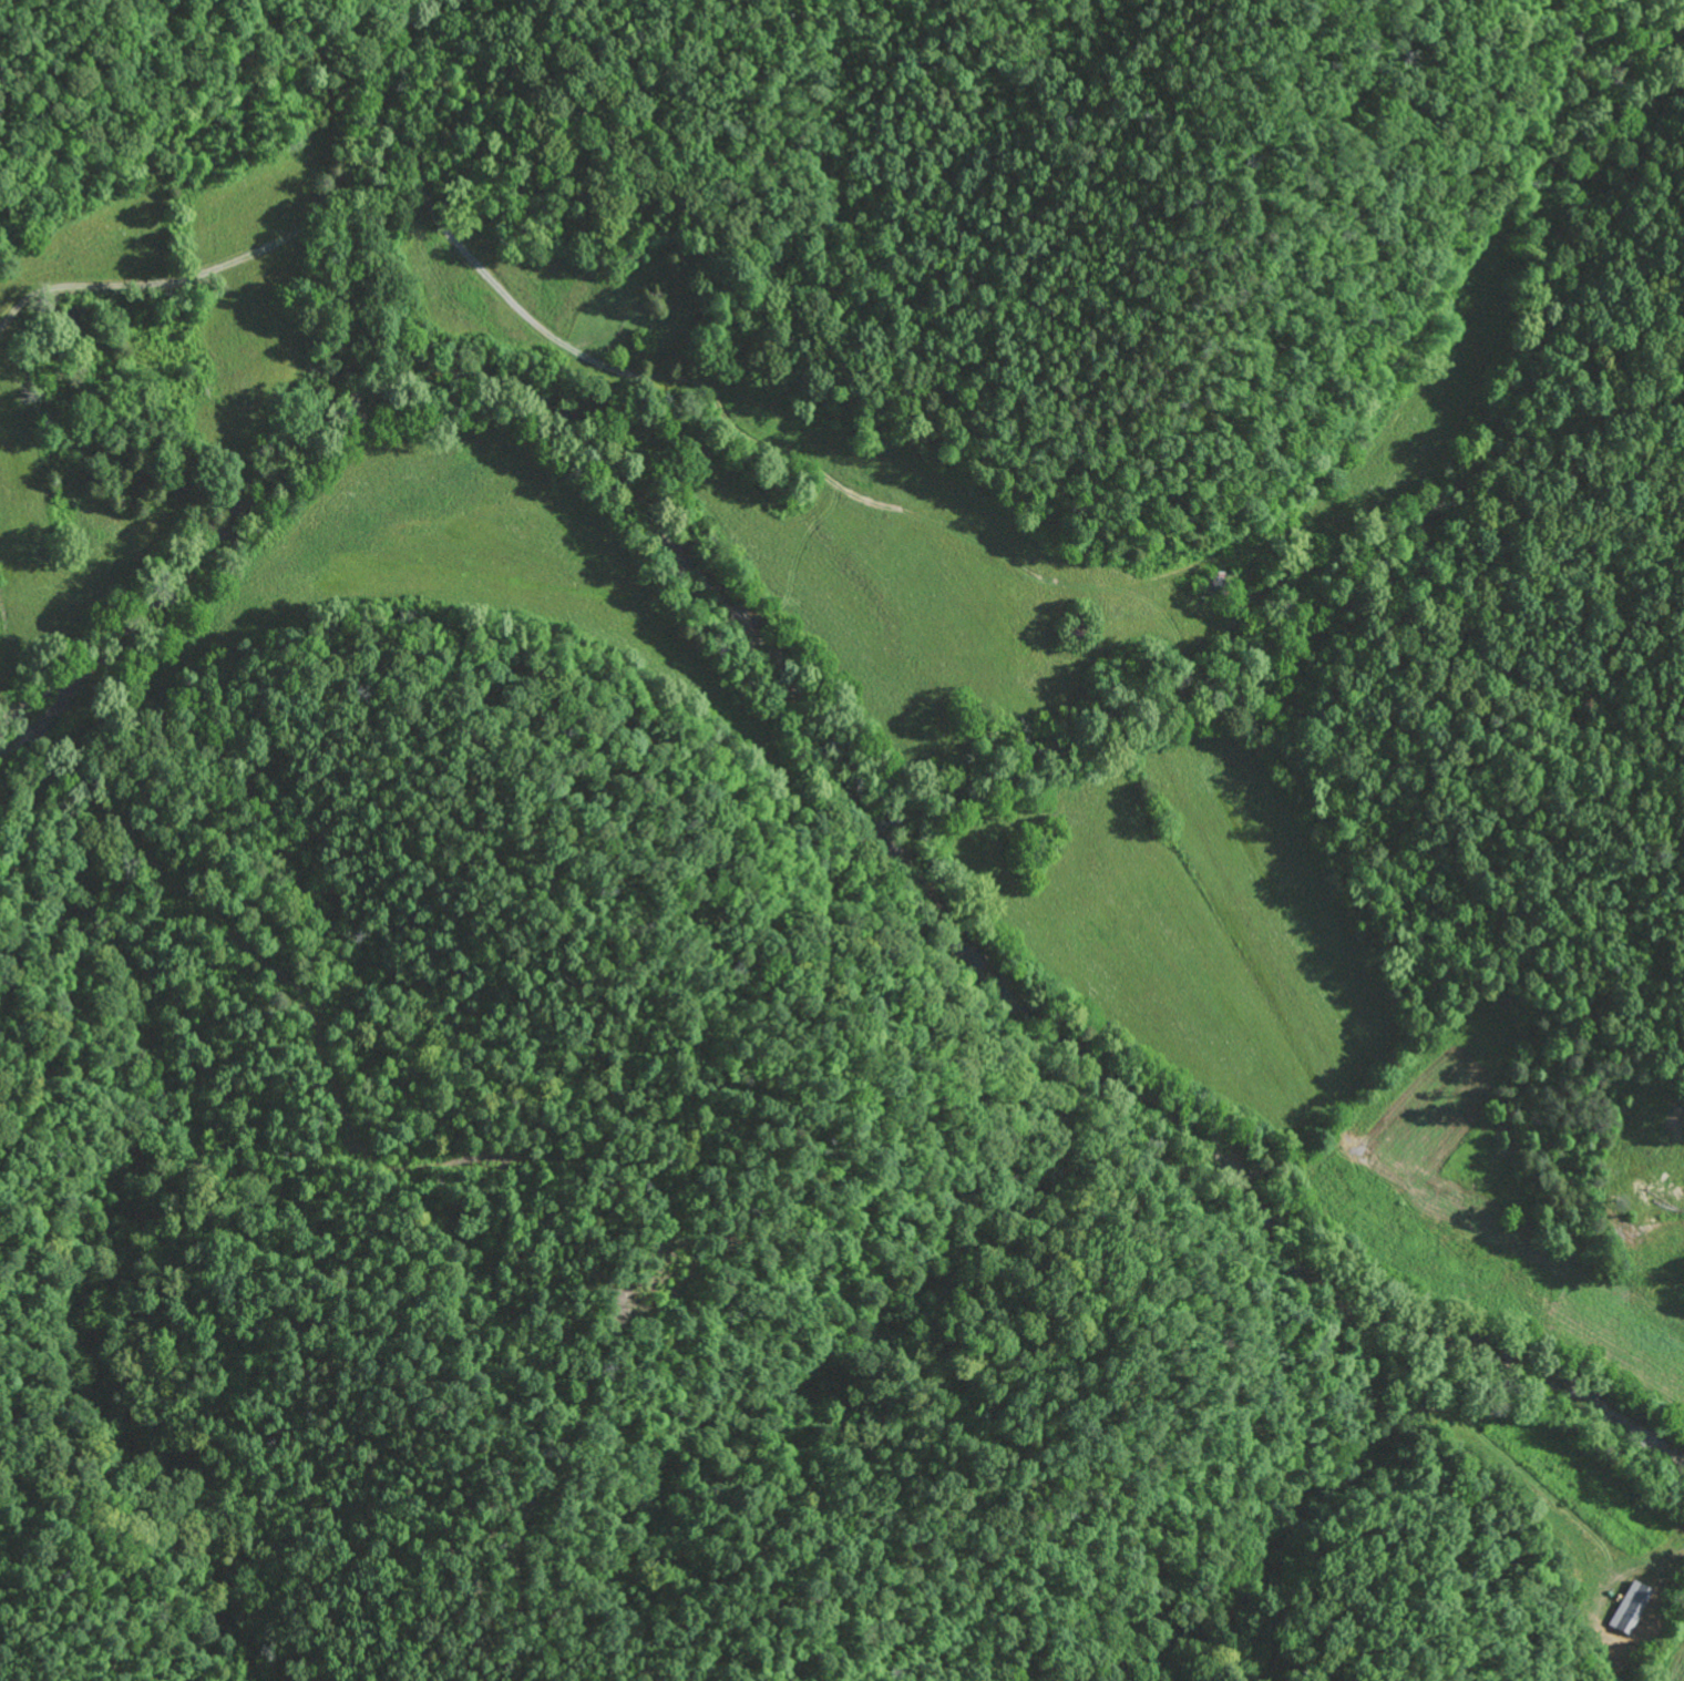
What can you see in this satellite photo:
park: (649, 312)
road: (573, 377)
road: (2, 660)
road: (1325, 1182)
building: (1630, 1608)

